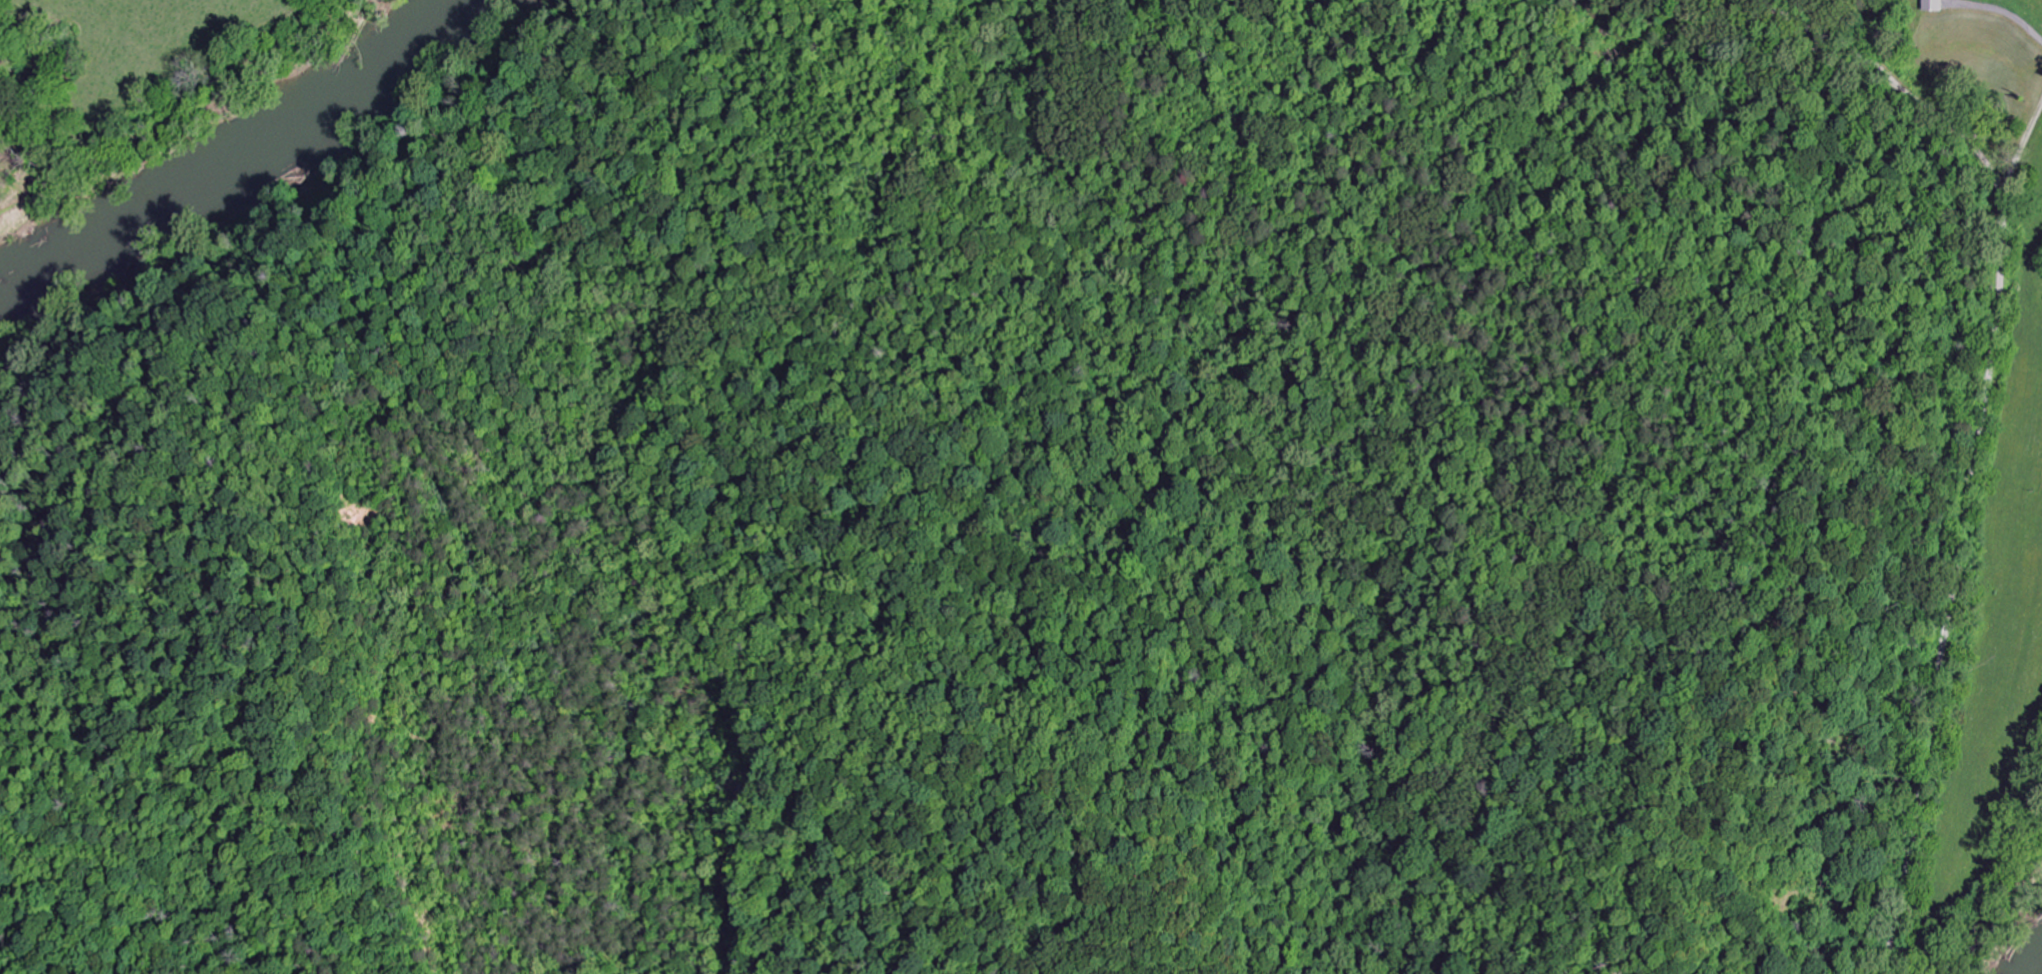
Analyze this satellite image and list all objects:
building: (1931, 5)
road: (1896, 76)
river: (257, 176)
road: (1958, 540)
river: (2023, 949)

